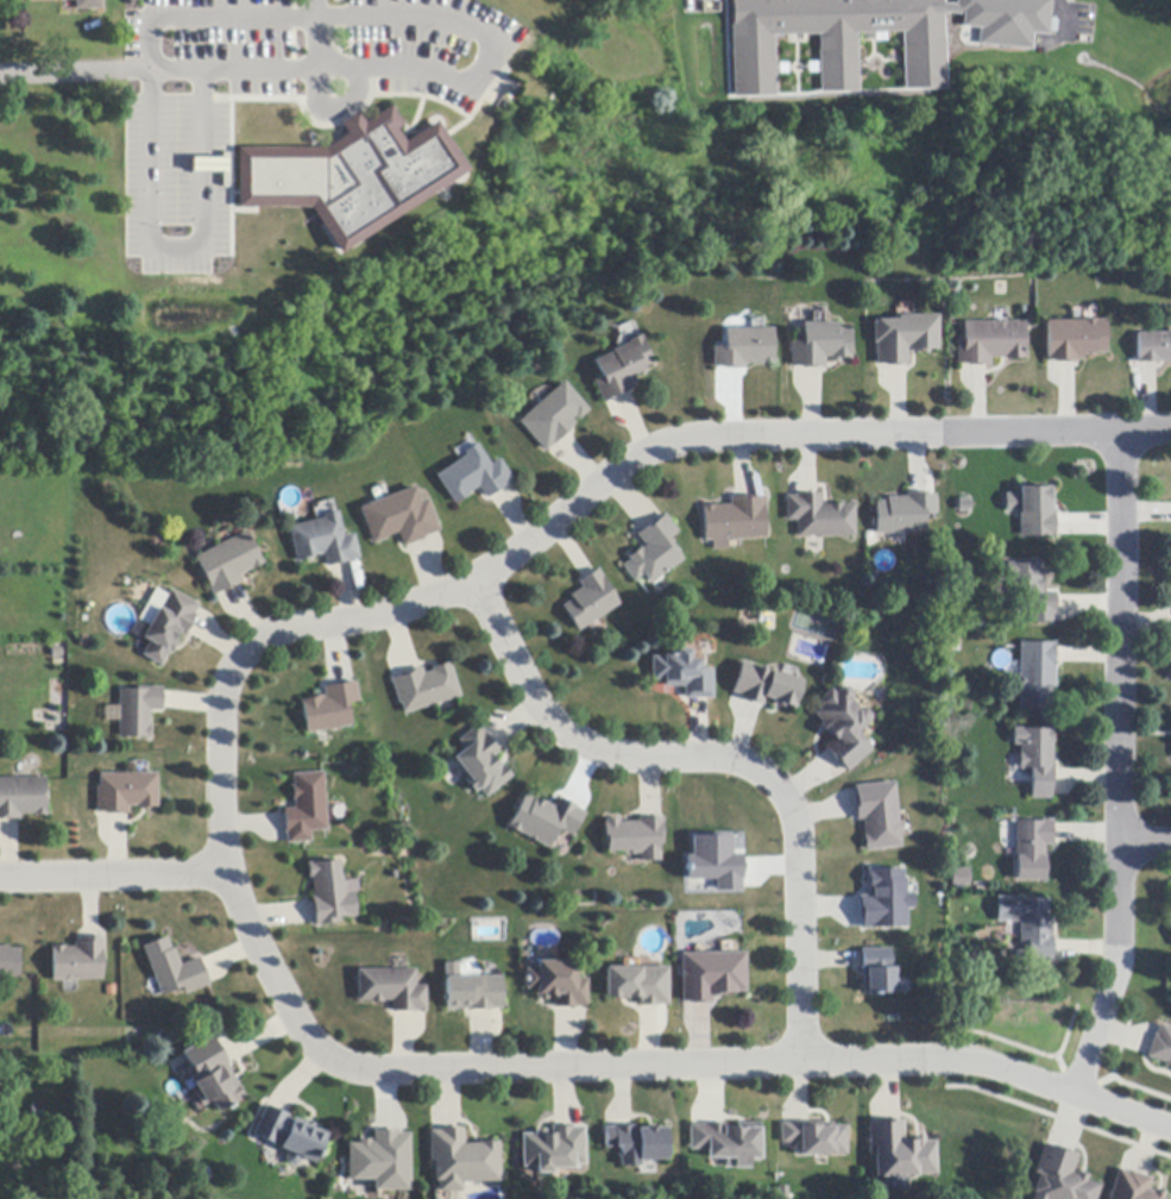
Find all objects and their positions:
building: (39, 0)
building: (88, 5)
road: (254, 12)
building: (832, 39)
road: (101, 70)
road: (313, 82)
parking lot: (272, 92)
building: (382, 176)
park: (603, 262)
building: (906, 338)
building: (1076, 339)
building: (993, 343)
building: (821, 346)
building: (745, 349)
building: (1154, 349)
building: (622, 369)
building: (554, 416)
road: (1145, 431)
building: (474, 476)
building: (965, 506)
building: (1034, 510)
building: (906, 514)
road: (564, 515)
building: (821, 517)
building: (401, 519)
building: (736, 521)
building: (323, 541)
building: (655, 552)
building: (228, 563)
building: (1032, 594)
building: (591, 601)
building: (168, 627)
building: (685, 674)
building: (1038, 676)
building: (767, 686)
building: (427, 688)
building: (330, 709)
building: (137, 711)
building: (844, 727)
road: (725, 759)
building: (1038, 759)
building: (481, 762)
road: (1122, 766)
building: (126, 792)
building: (21, 798)
building: (307, 809)
building: (879, 815)
building: (547, 821)
building: (637, 839)
road: (1147, 842)
building: (1033, 849)
building: (713, 860)
road: (113, 872)
building: (962, 878)
building: (330, 894)
building: (884, 899)
building: (1031, 924)
building: (80, 961)
building: (10, 962)
building: (174, 969)
building: (877, 972)
building: (711, 975)
building: (558, 984)
building: (638, 985)
building: (391, 990)
building: (471, 991)
building: (1161, 1047)
road: (646, 1068)
building: (212, 1076)
building: (36, 1110)
building: (289, 1136)
building: (813, 1138)
building: (728, 1143)
building: (636, 1144)
building: (553, 1149)
building: (899, 1151)
building: (382, 1161)
building: (461, 1161)
building: (1060, 1176)
building: (1131, 1187)

